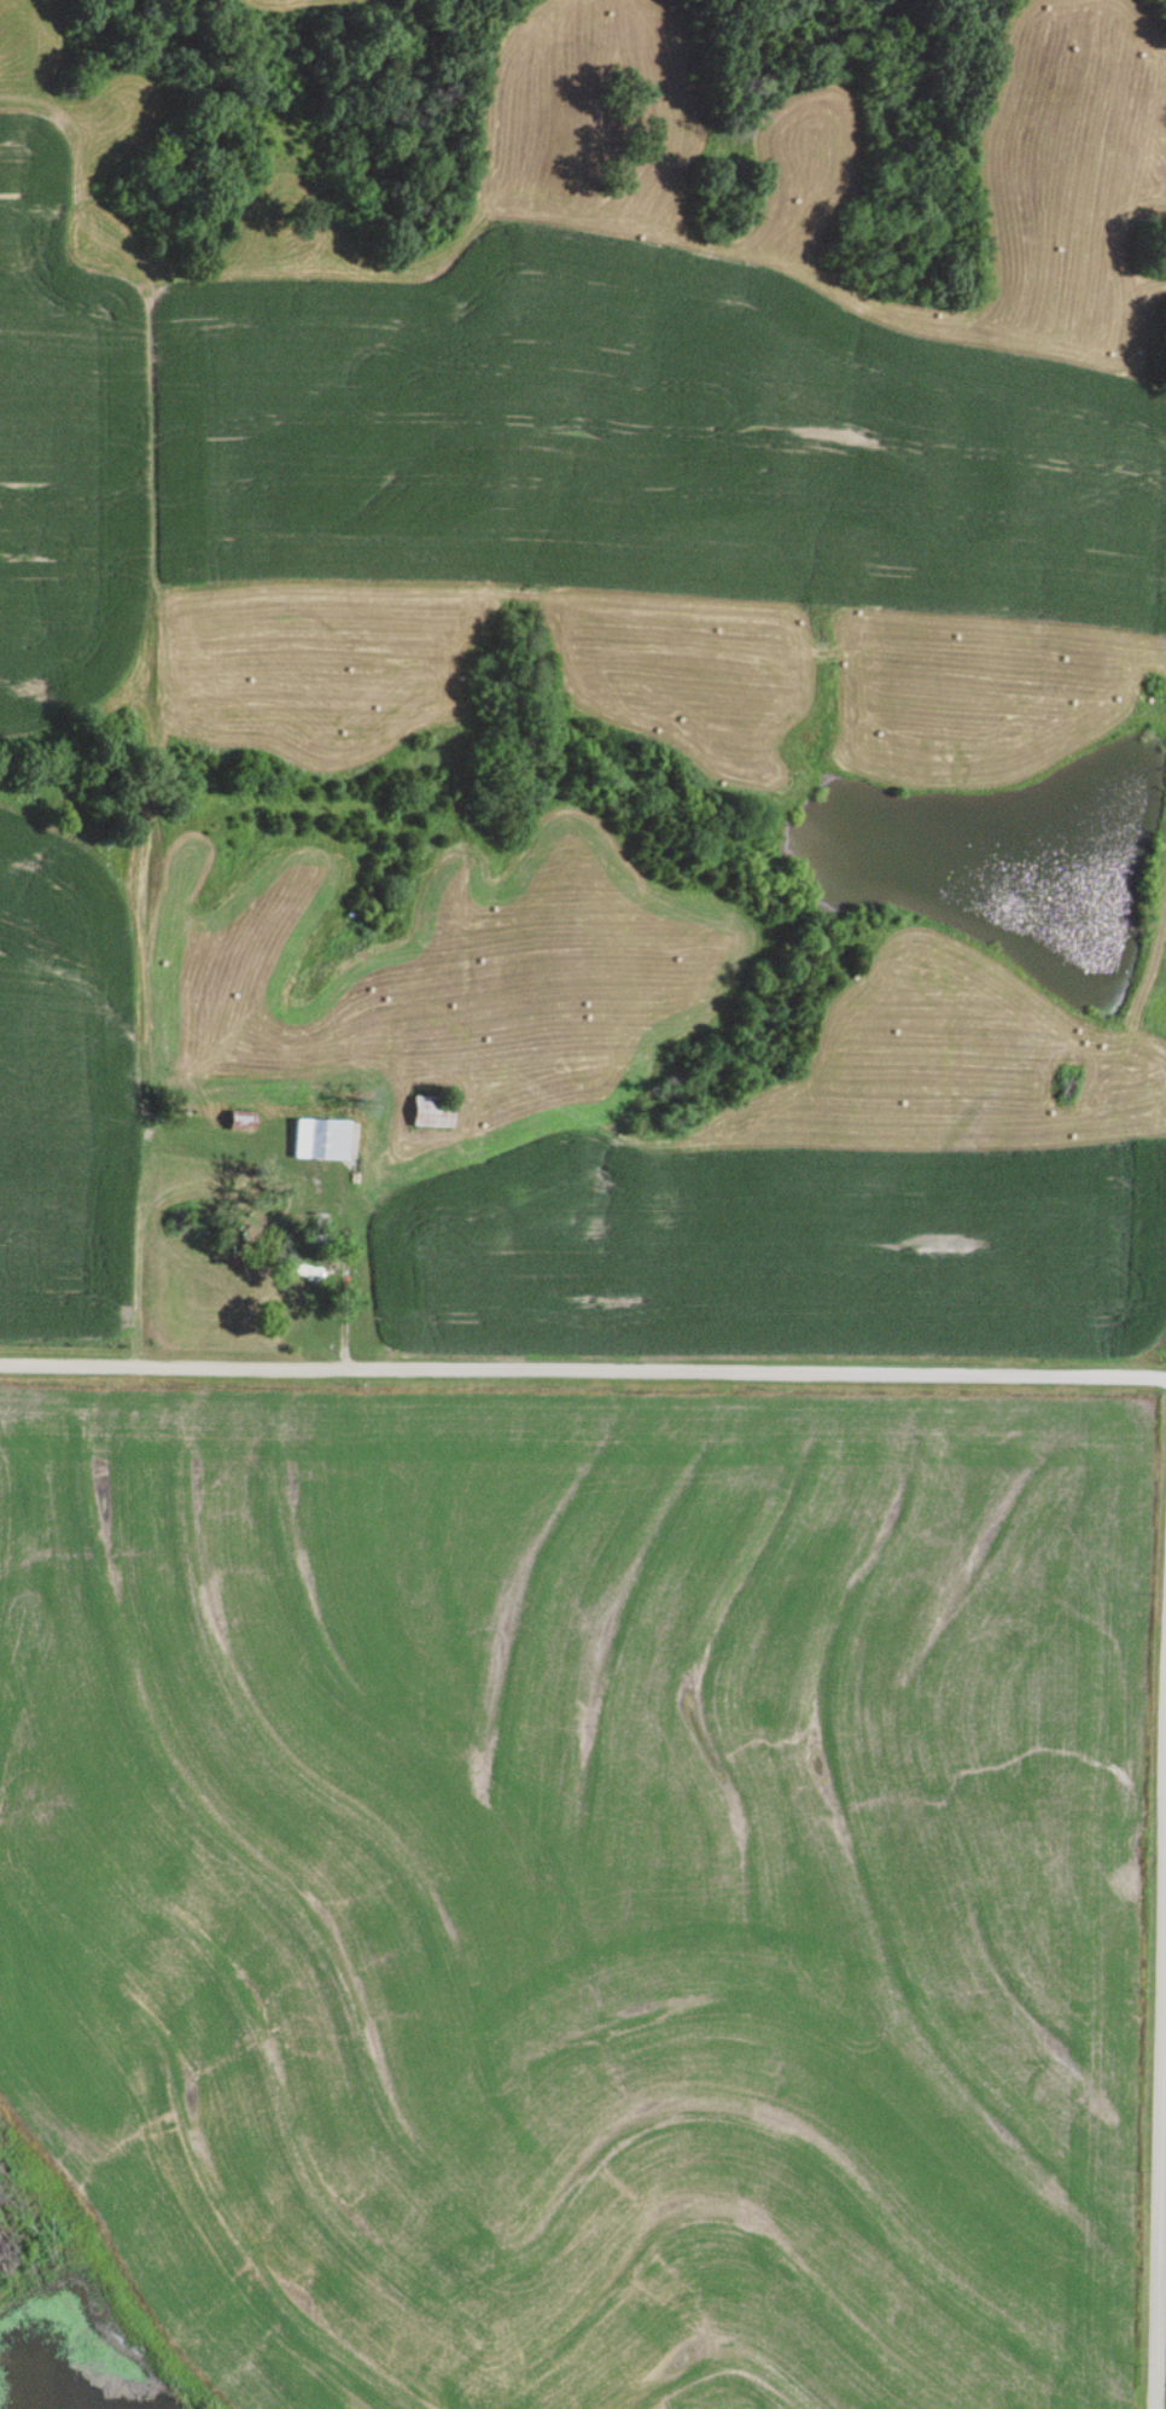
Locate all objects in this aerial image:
building: (428, 1113)
building: (237, 1122)
building: (322, 1141)
road: (346, 1281)
road: (582, 1371)
road: (1162, 2250)

